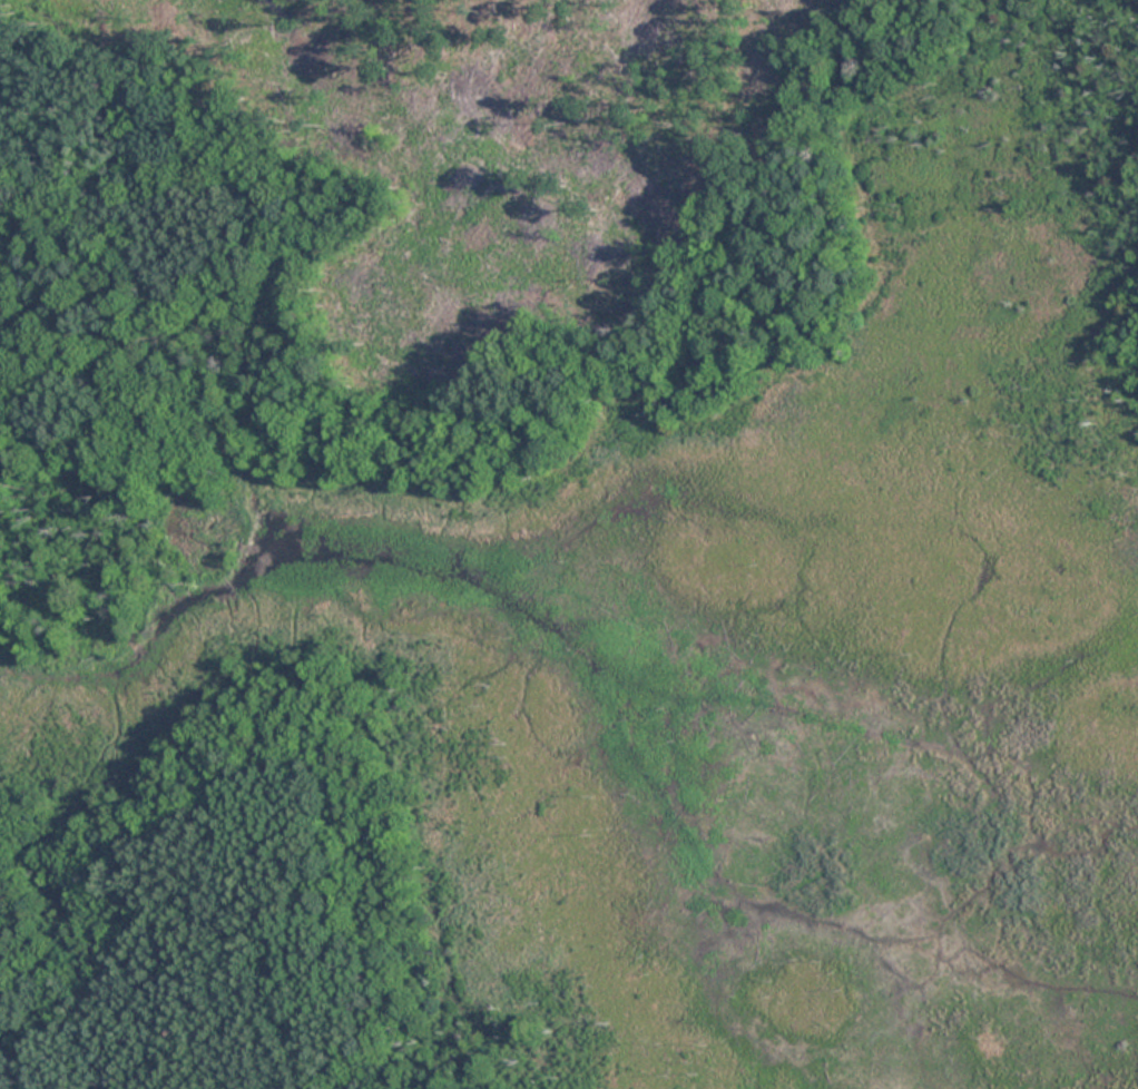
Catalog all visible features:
park: (569, 544)

